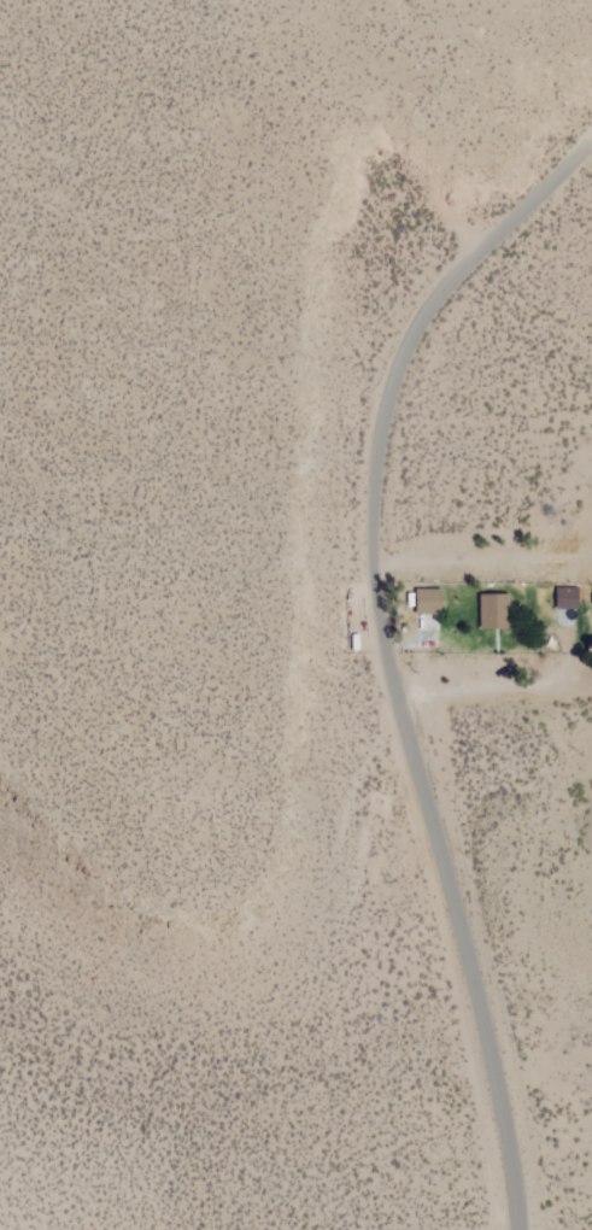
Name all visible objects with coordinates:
road: (576, 164)
building: (563, 597)
building: (427, 602)
building: (492, 611)
road: (391, 683)

